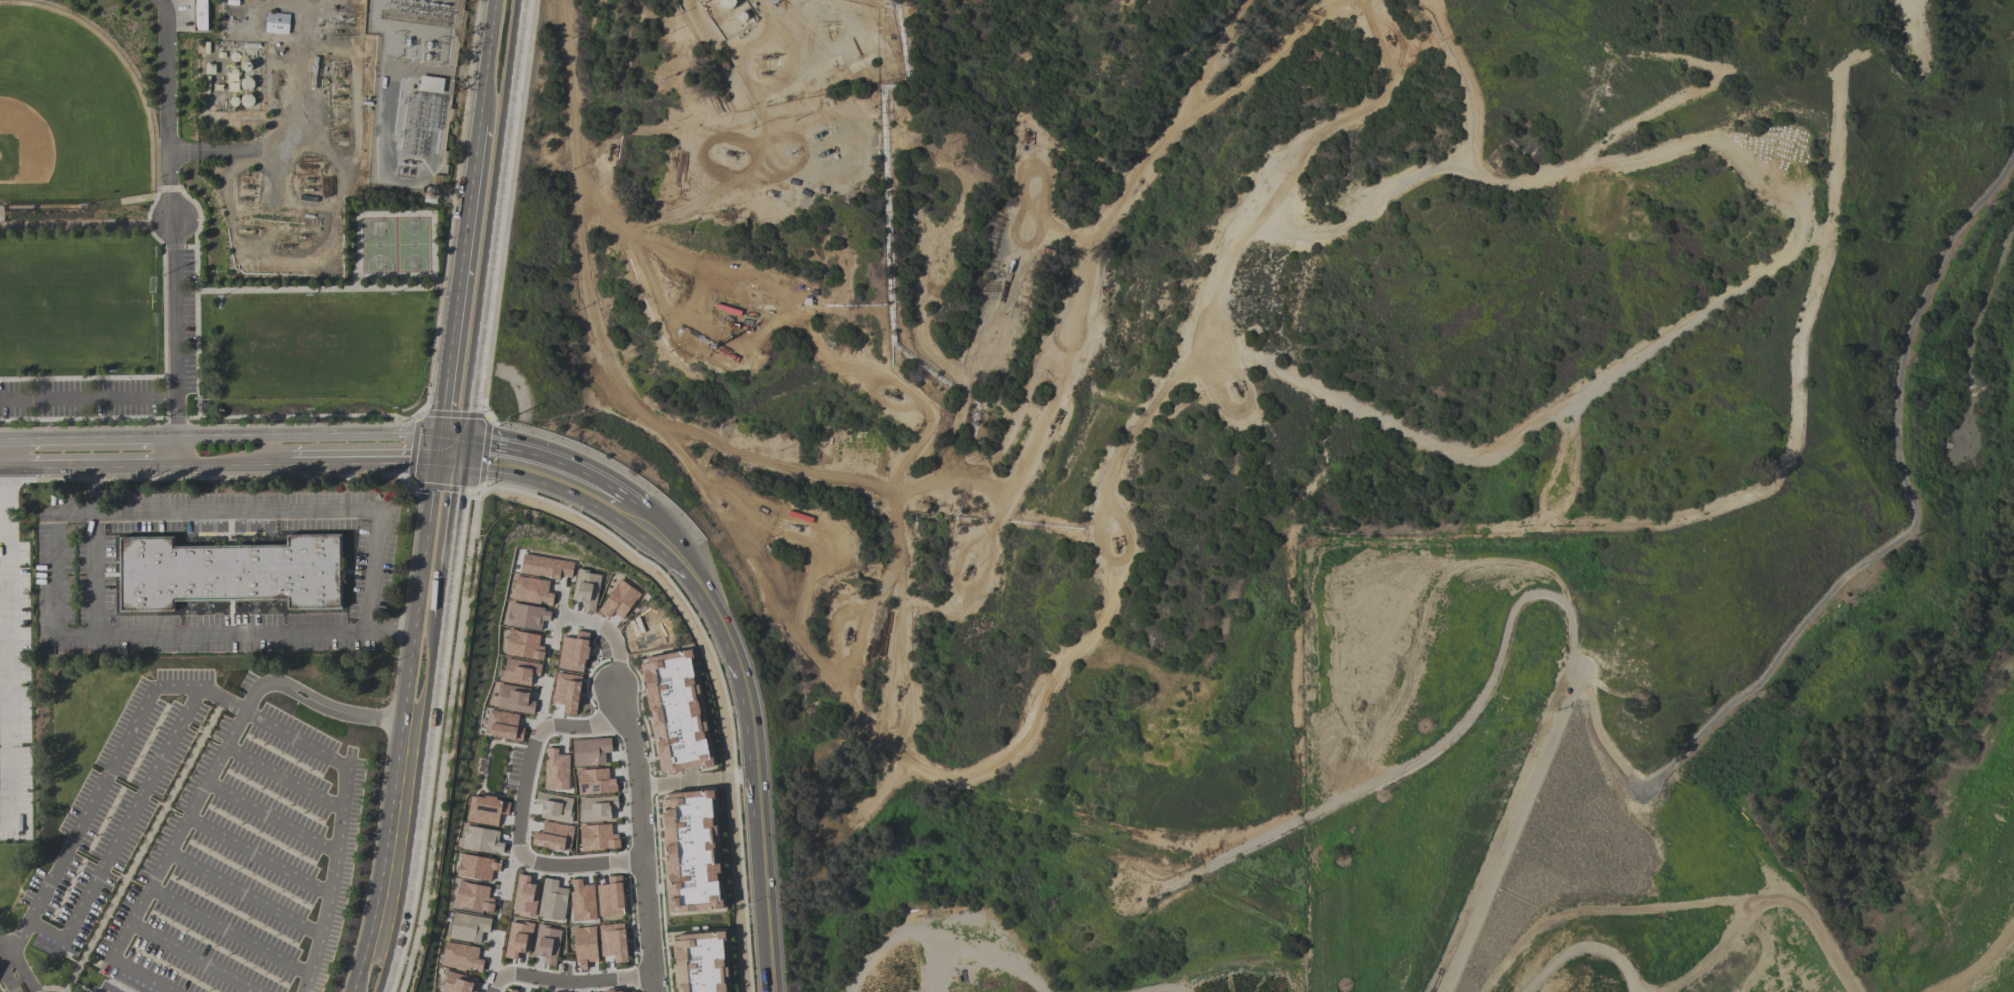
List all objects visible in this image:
building: (201, 15)
building: (278, 23)
road: (776, 28)
petroleum well: (1389, 39)
petroleum well: (767, 57)
road: (1269, 58)
road: (1209, 59)
road: (488, 60)
petroleum well: (335, 70)
petroleum well: (343, 70)
petroleum well: (767, 73)
road: (1466, 82)
building: (432, 84)
petroleum well: (341, 88)
power substation: (412, 88)
road: (166, 96)
petroleum well: (338, 97)
park: (64, 118)
petroleum well: (340, 135)
petroleum well: (1023, 139)
road: (1306, 141)
road: (156, 142)
petroleum well: (607, 149)
road: (216, 152)
petroleum well: (731, 154)
petroleum well: (309, 180)
petroleum well: (247, 186)
petroleum well: (309, 189)
petroleum well: (769, 193)
petroleum well: (246, 198)
road: (1117, 198)
road: (199, 221)
road: (490, 229)
petroleum well: (248, 231)
road: (1814, 231)
petroleum well: (301, 237)
park: (395, 245)
petroleum well: (284, 247)
road: (1789, 254)
road: (456, 287)
road: (315, 291)
park: (71, 304)
road: (703, 306)
road: (794, 308)
road: (163, 320)
parking lot: (179, 322)
road: (174, 329)
road: (602, 342)
road: (685, 344)
park: (314, 345)
road: (979, 356)
road: (82, 380)
petroleum well: (1238, 391)
petroleum well: (891, 395)
parking lot: (80, 399)
road: (88, 401)
petroleum well: (1055, 418)
road: (184, 419)
road: (1049, 420)
road: (1797, 425)
road: (309, 434)
road: (94, 438)
road: (5, 440)
traffic signals: (434, 454)
road: (448, 456)
traffic signals: (462, 458)
road: (361, 463)
road: (102, 465)
road: (232, 465)
road: (14, 467)
road: (556, 479)
petroleum well: (925, 502)
road: (289, 507)
petroleum well: (729, 507)
road: (776, 511)
petroleum well: (793, 528)
road: (451, 540)
petroleum well: (1116, 543)
road: (819, 553)
building: (545, 567)
road: (91, 572)
building: (234, 572)
petroleum well: (966, 572)
building: (587, 589)
building: (531, 591)
road: (10, 594)
building: (619, 600)
road: (558, 612)
park: (1847, 613)
building: (527, 616)
road: (905, 629)
road: (609, 632)
road: (638, 633)
road: (139, 635)
petroleum well: (847, 636)
building: (524, 645)
building: (574, 652)
road: (734, 656)
building: (520, 672)
road: (1753, 689)
building: (567, 692)
petroleum well: (897, 694)
building: (515, 699)
road: (543, 707)
building: (676, 712)
road: (400, 724)
building: (504, 726)
road: (1420, 751)
building: (591, 752)
road: (1001, 762)
building: (557, 771)
road: (8, 777)
road: (283, 779)
road: (104, 780)
building: (595, 782)
road: (672, 782)
road: (203, 784)
building: (555, 807)
road: (418, 808)
building: (598, 808)
building: (487, 809)
road: (520, 809)
road: (270, 818)
road: (340, 822)
road: (121, 836)
building: (554, 837)
building: (598, 837)
road: (638, 837)
building: (482, 839)
road: (141, 846)
building: (691, 851)
road: (257, 856)
building: (477, 866)
road: (508, 873)
road: (243, 895)
building: (475, 896)
building: (526, 896)
building: (611, 897)
building: (553, 900)
building: (583, 901)
road: (764, 905)
road: (1766, 906)
road: (685, 923)
building: (469, 926)
road: (227, 932)
building: (519, 939)
building: (614, 942)
building: (548, 944)
building: (586, 946)
road: (1592, 947)
road: (3, 953)
building: (462, 956)
road: (494, 956)
crop: (939, 957)
road: (190, 958)
building: (700, 963)
road: (1994, 964)
road: (18, 967)
crop: (1228, 976)
road: (6, 980)
road: (567, 982)
building: (458, 983)
road: (577, 987)
building: (510, 990)
building: (619, 991)

